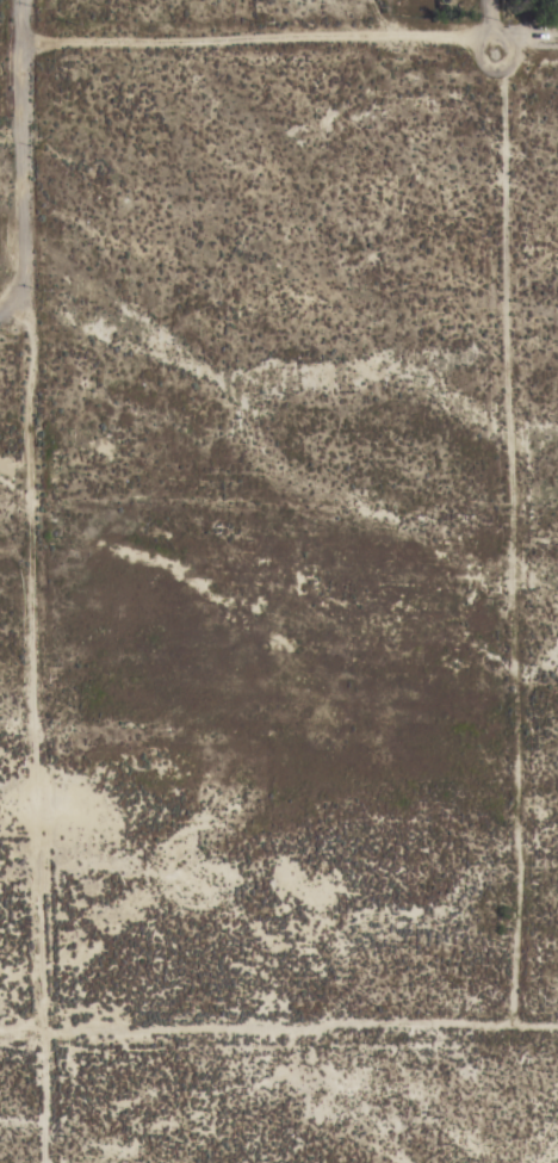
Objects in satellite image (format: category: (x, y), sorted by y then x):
road: (495, 19)
road: (287, 41)
road: (12, 303)
road: (31, 581)
road: (506, 601)
road: (299, 1029)

